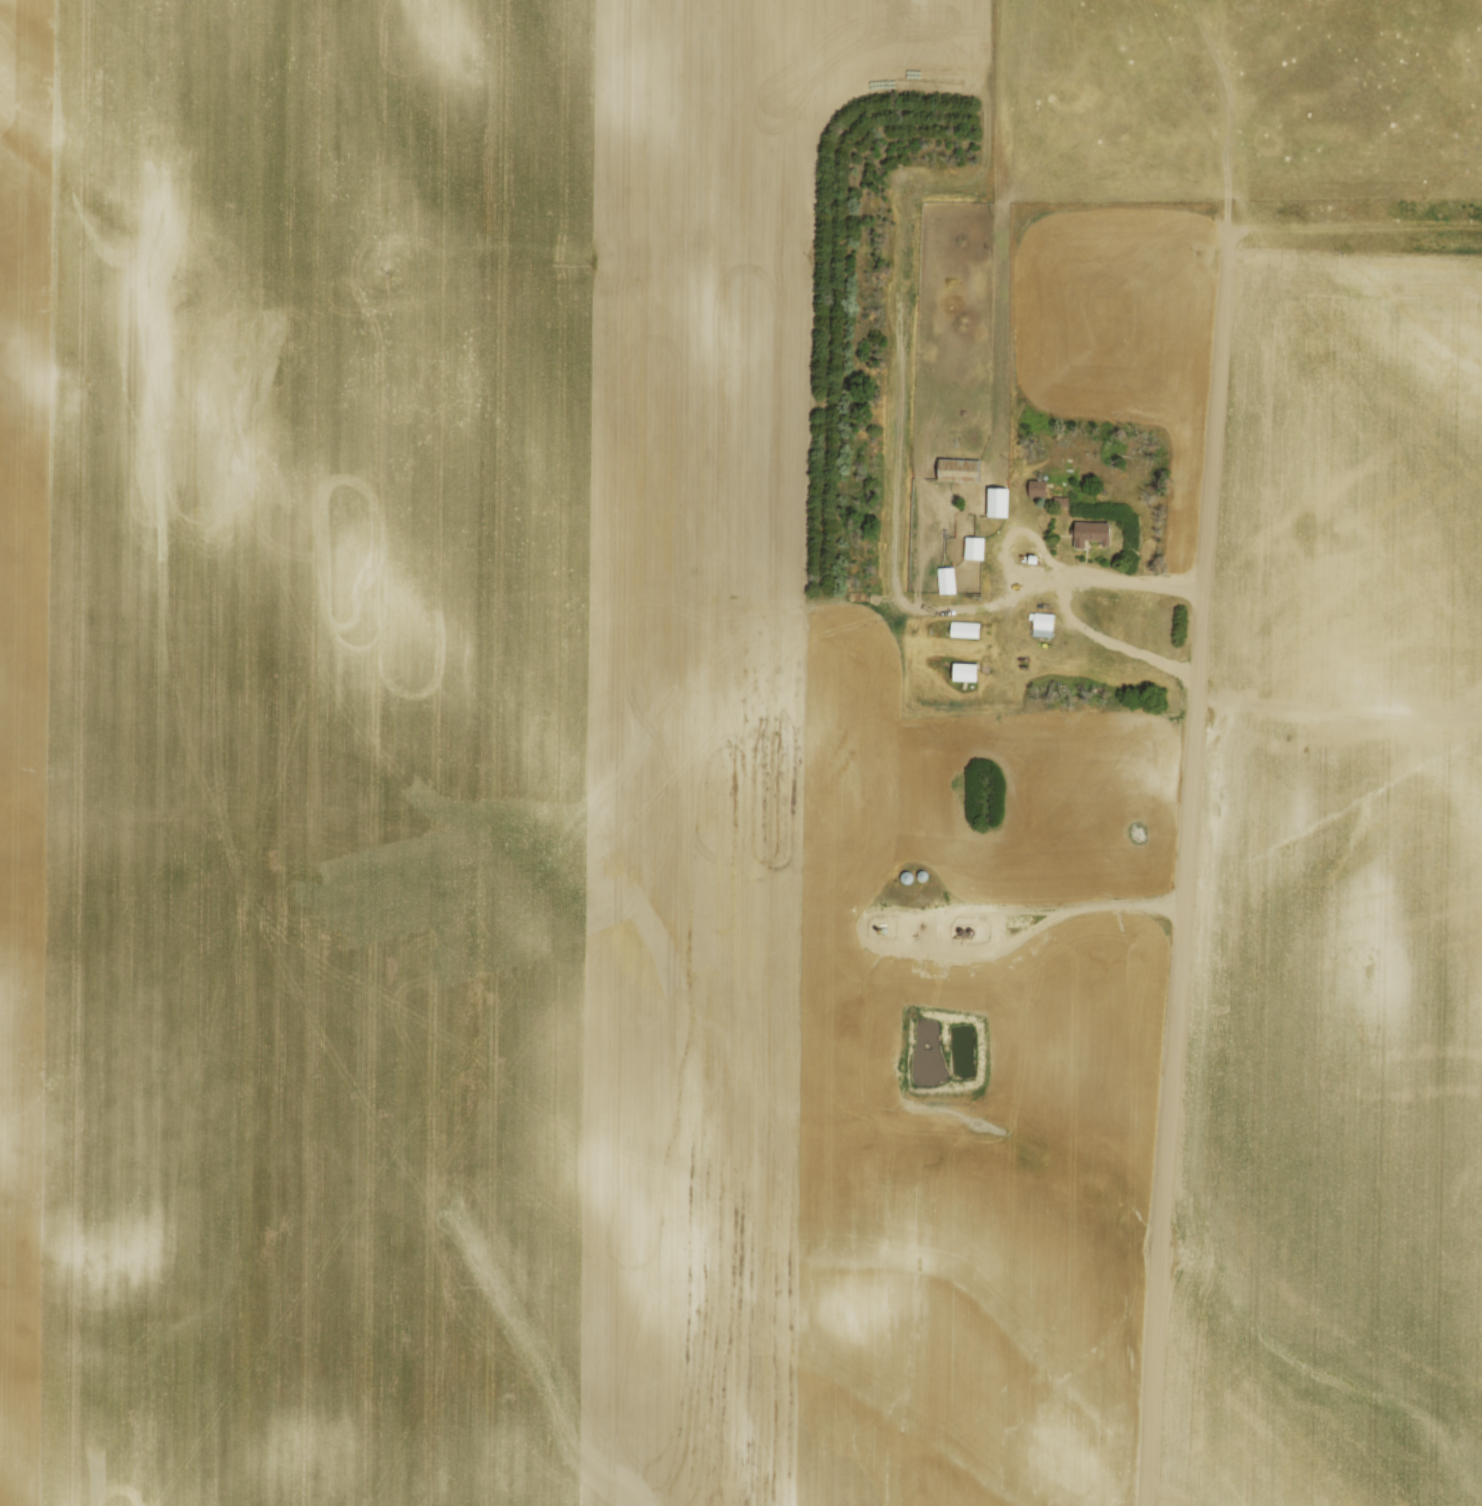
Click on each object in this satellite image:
road: (901, 399)
building: (960, 467)
building: (1038, 485)
building: (997, 499)
building: (1092, 530)
building: (975, 545)
road: (1066, 565)
building: (947, 576)
building: (1044, 621)
building: (965, 627)
building: (966, 669)
crop: (515, 807)
silo: (921, 873)
silo: (907, 874)
road: (1189, 884)
crop: (1342, 907)
road: (1004, 939)

